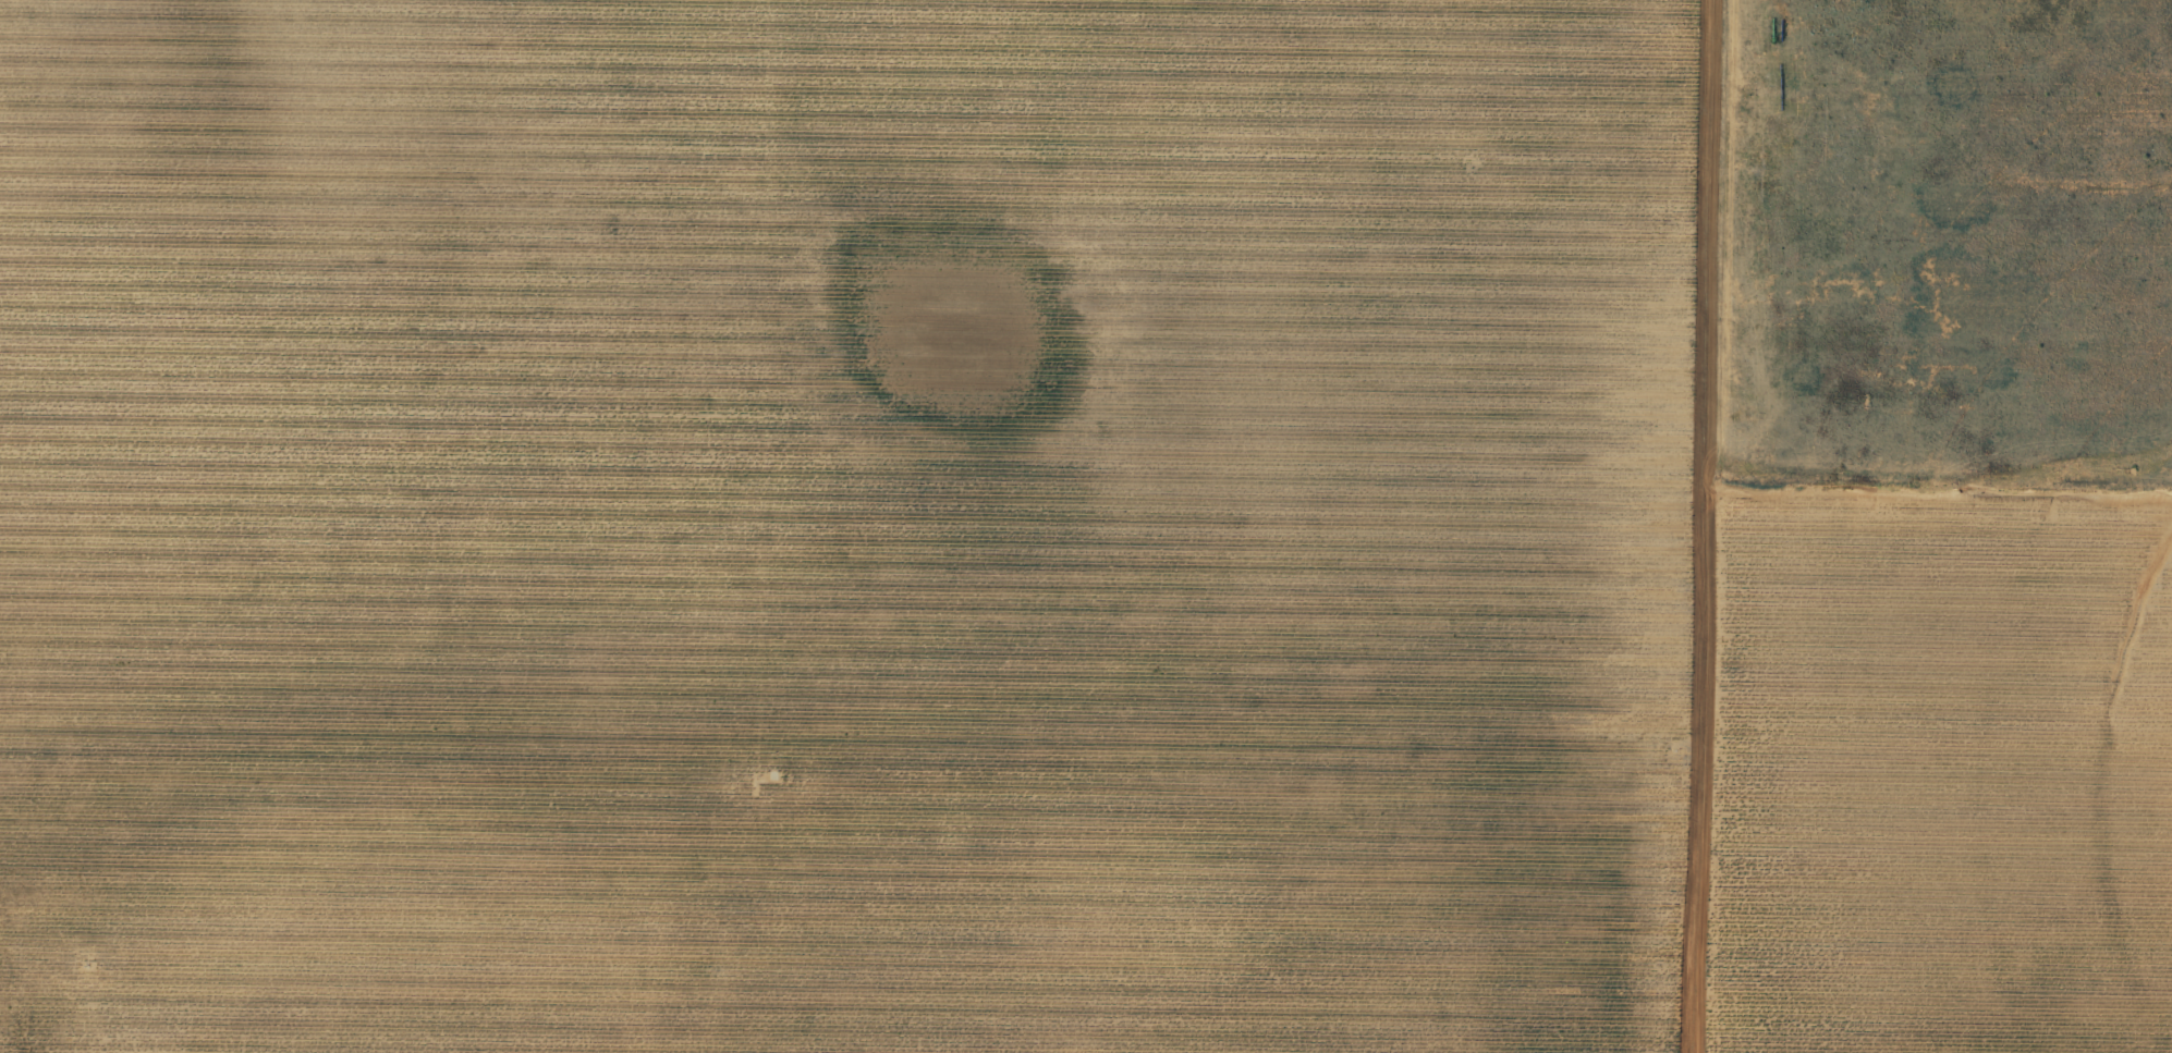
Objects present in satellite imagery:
road: (1717, 526)

